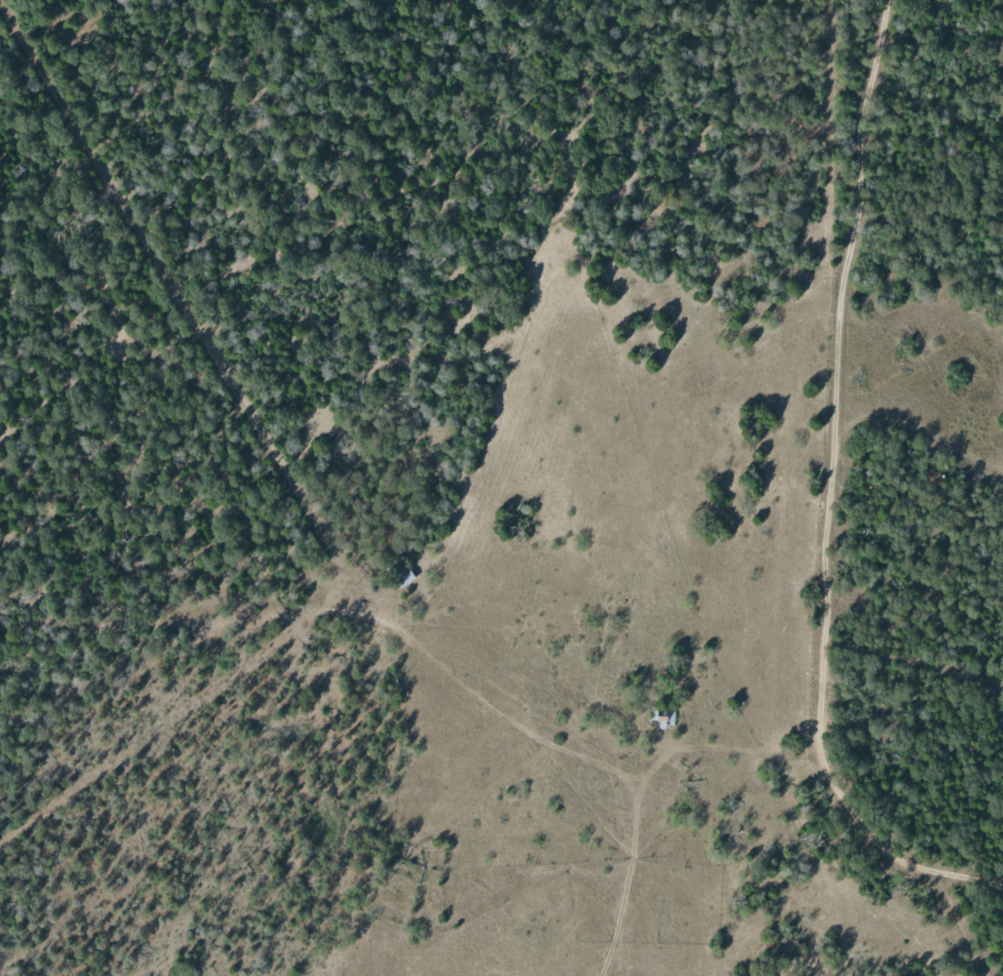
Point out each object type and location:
road: (925, 207)
road: (839, 369)
road: (917, 492)
road: (642, 787)
road: (881, 850)

